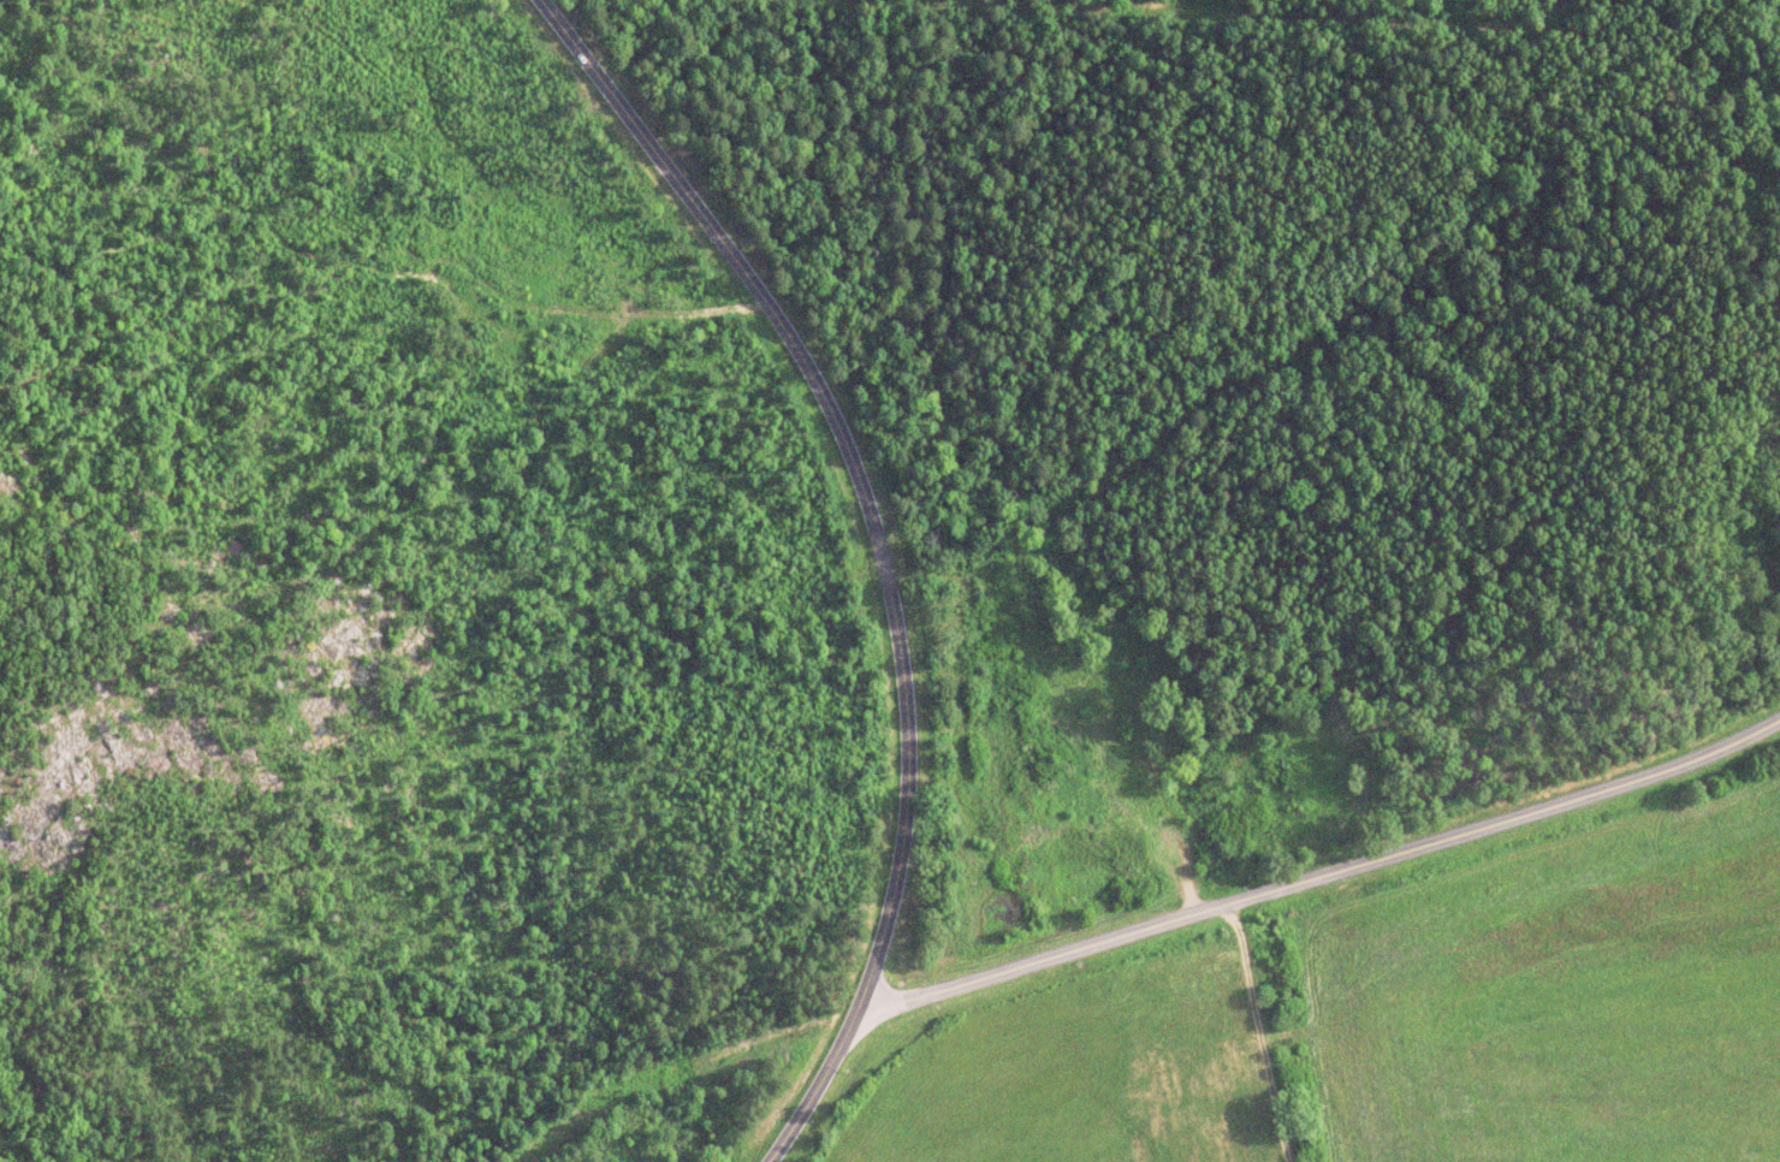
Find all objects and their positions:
road: (876, 546)
road: (1323, 876)

